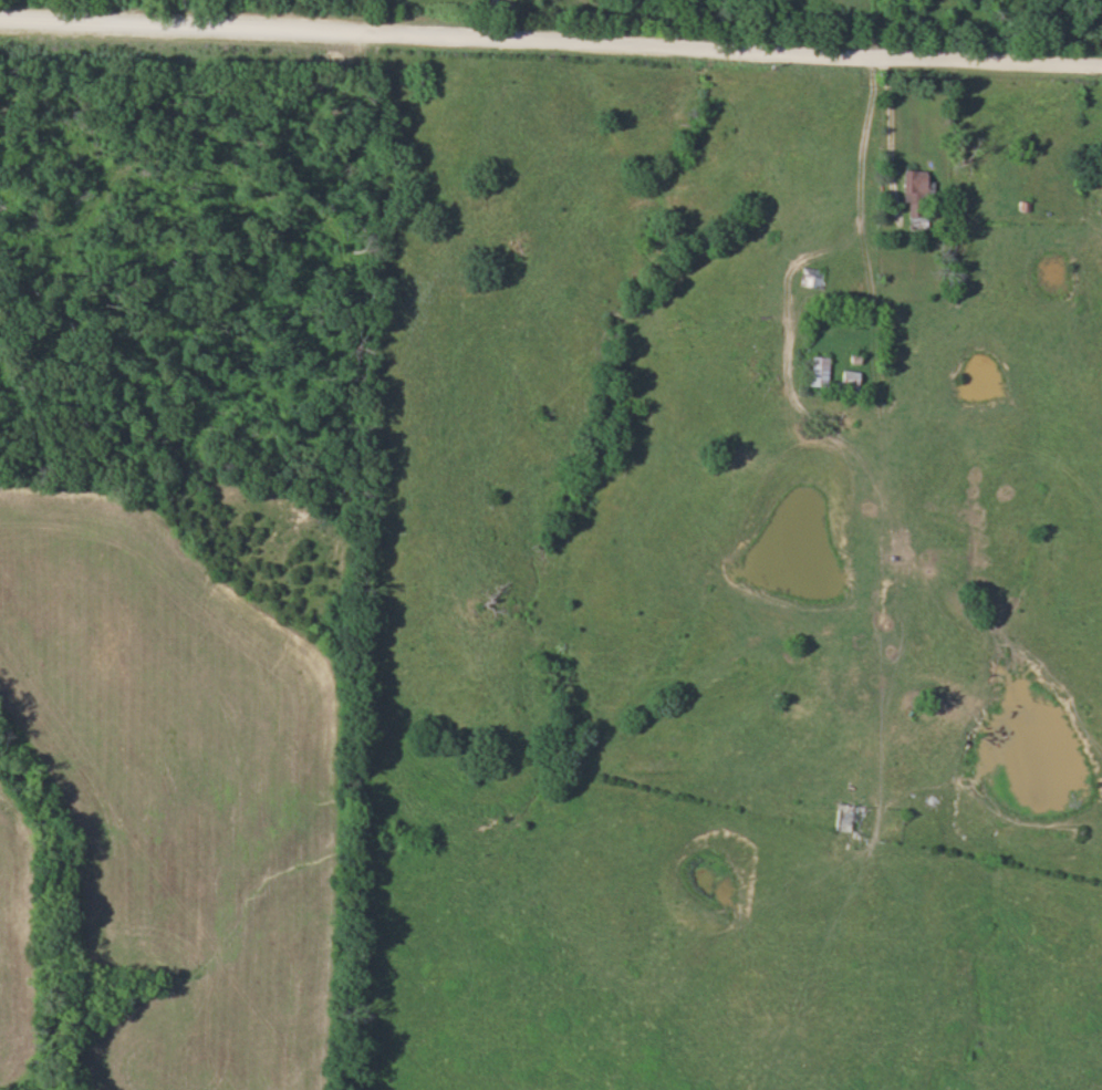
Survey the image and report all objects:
road: (480, 15)
road: (551, 37)
road: (883, 138)
building: (913, 199)
road: (838, 227)
building: (814, 372)
building: (845, 382)
building: (844, 819)

